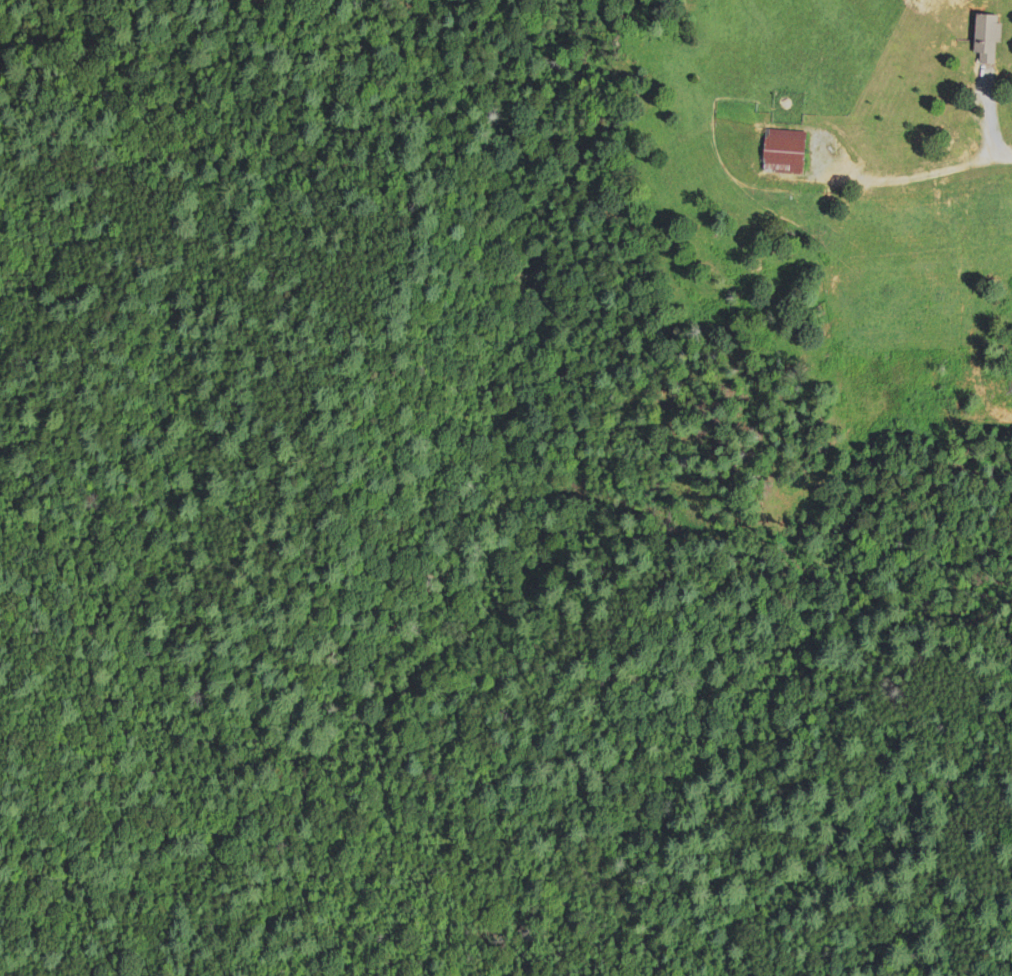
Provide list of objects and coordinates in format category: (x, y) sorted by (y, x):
building: (984, 38)
building: (783, 152)
road: (919, 174)

